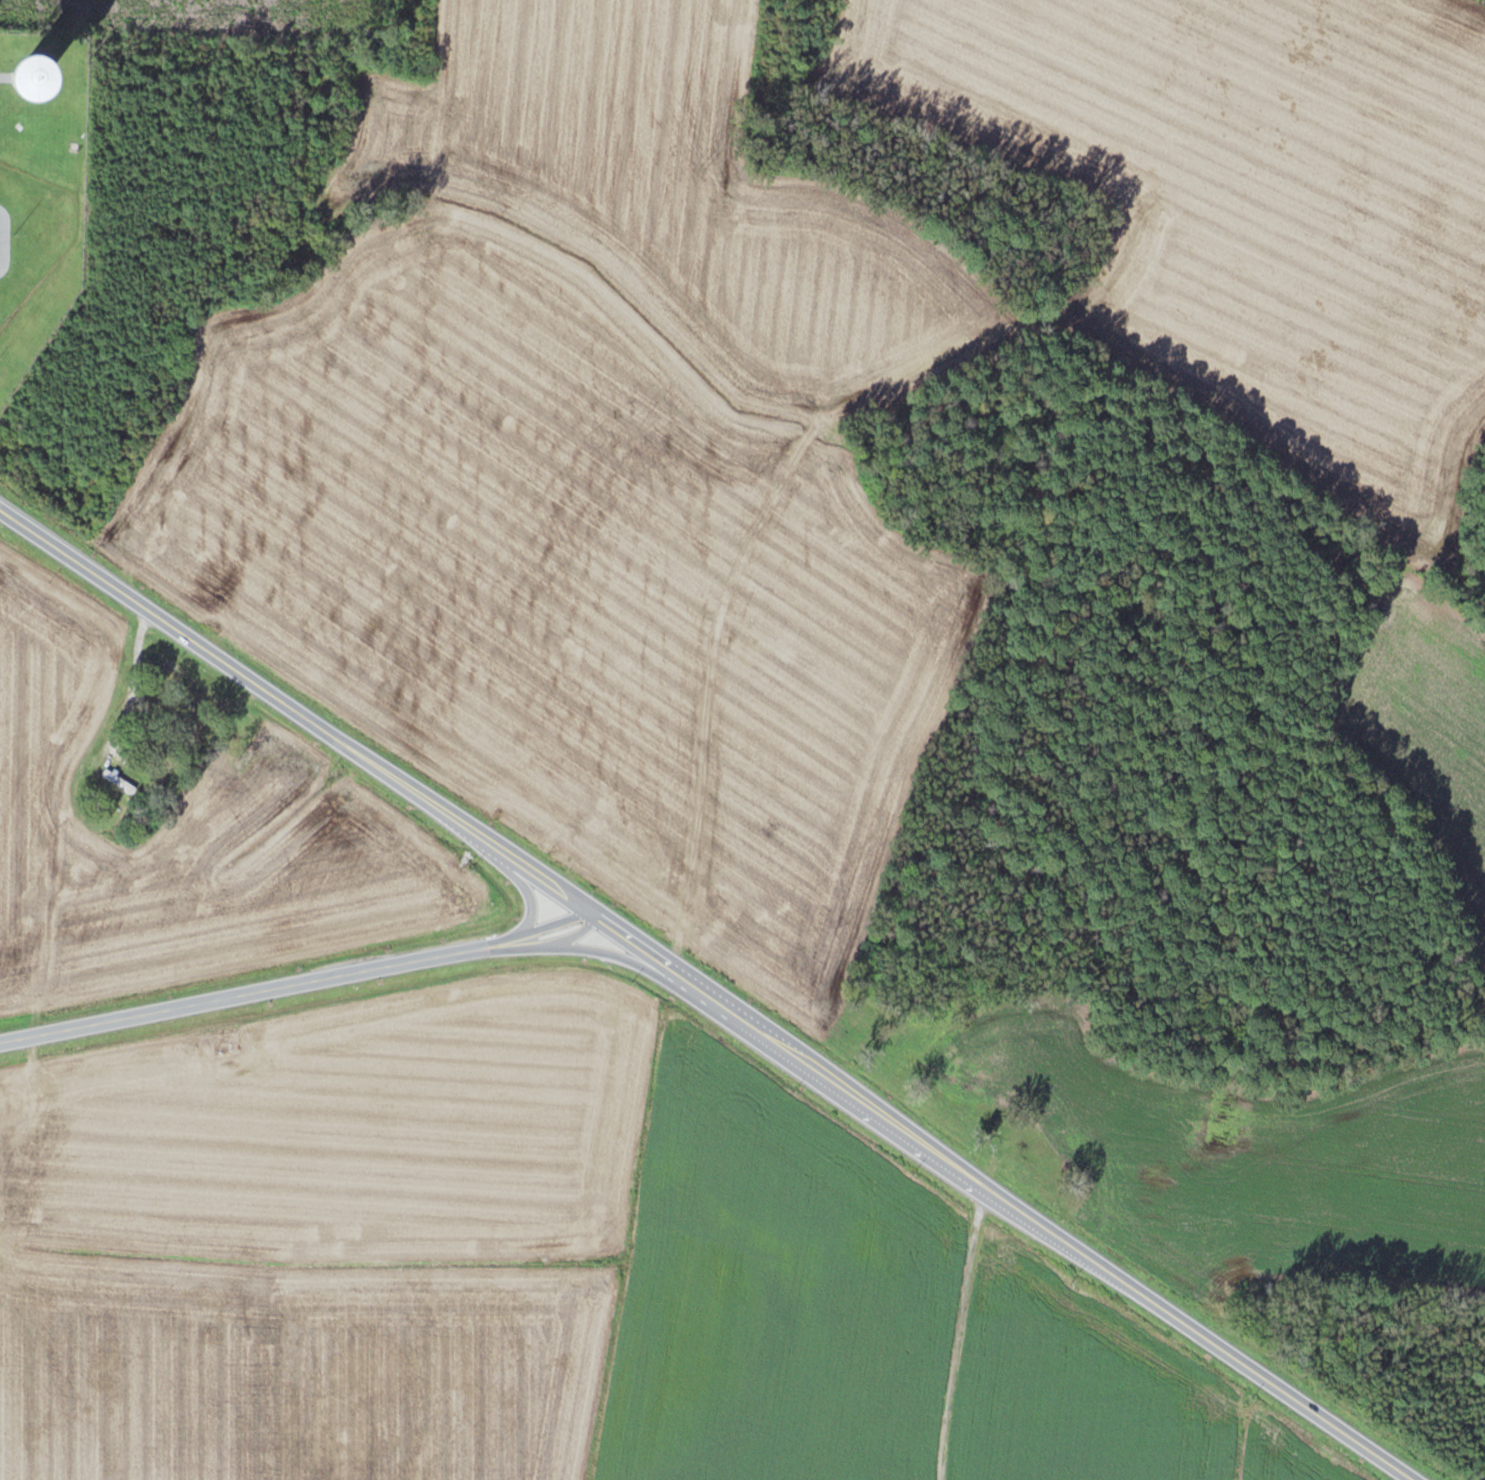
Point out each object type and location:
road: (259, 683)
building: (121, 780)
building: (545, 802)
road: (548, 881)
road: (528, 900)
road: (588, 908)
road: (550, 922)
road: (576, 931)
road: (634, 940)
road: (534, 944)
road: (611, 952)
road: (259, 990)
road: (906, 1133)
road: (963, 1329)
road: (1277, 1388)

